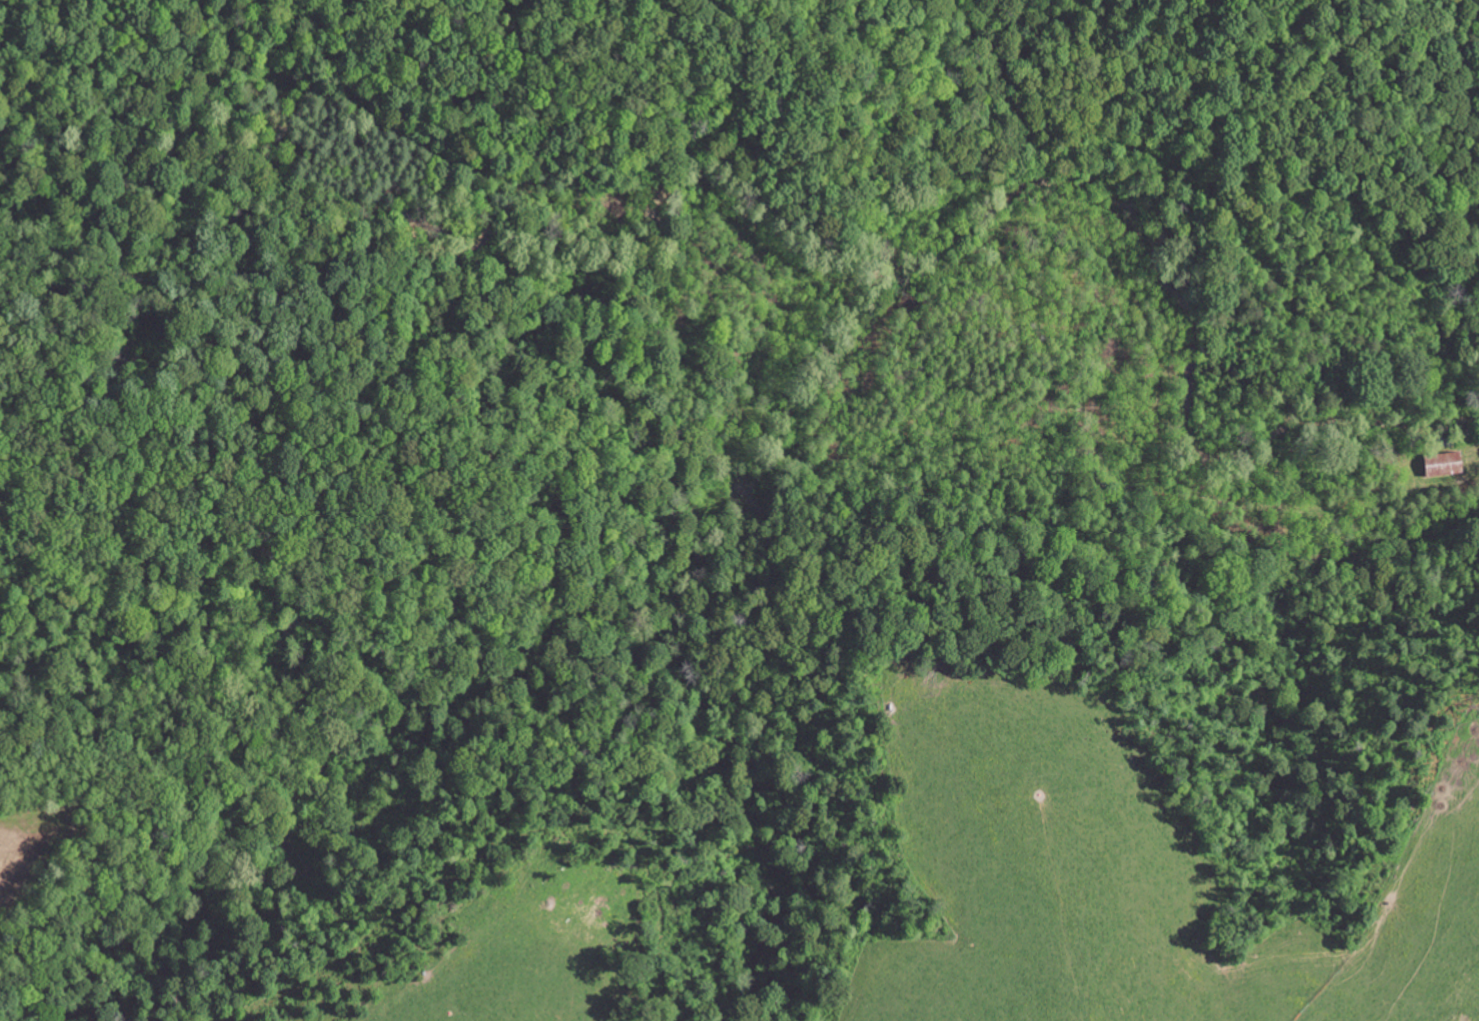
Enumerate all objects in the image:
building: (1443, 465)

